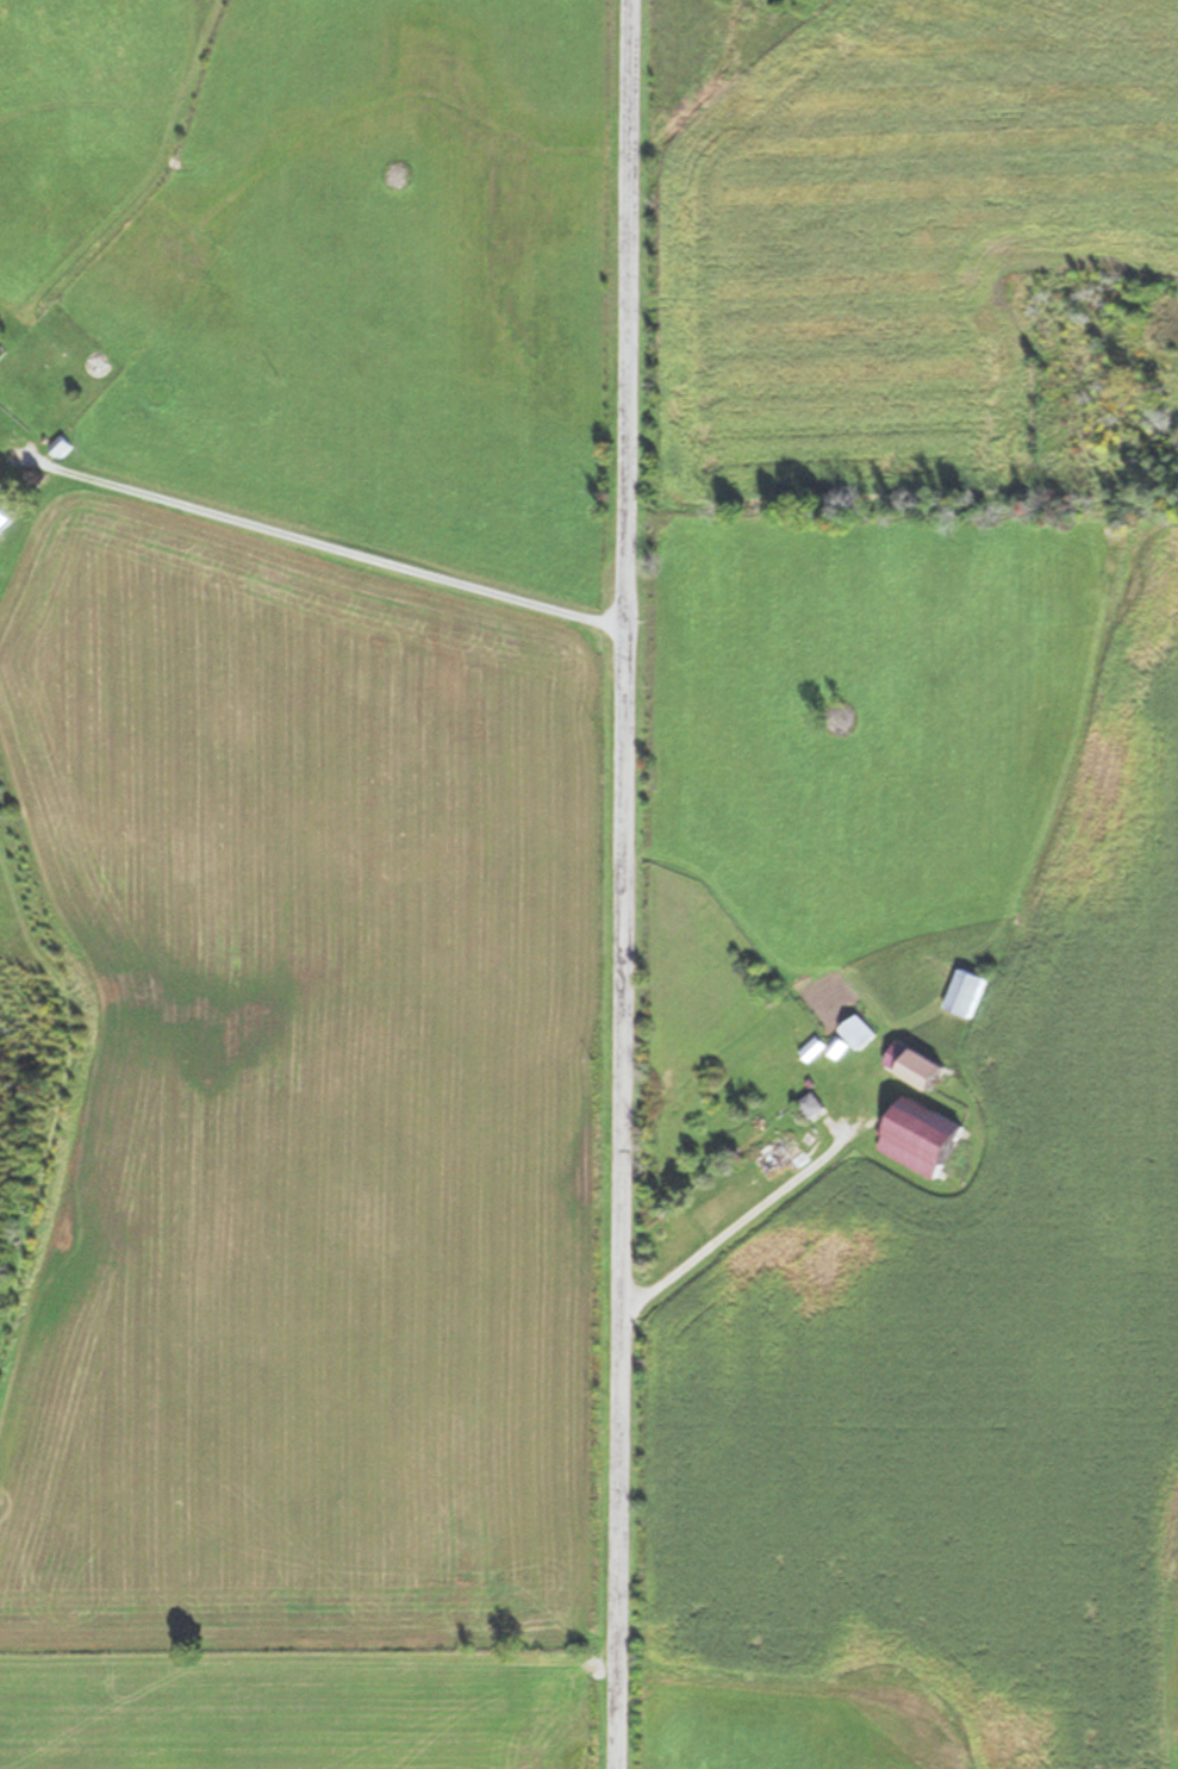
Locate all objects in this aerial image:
building: (58, 447)
building: (2, 518)
road: (337, 531)
road: (622, 884)
building: (961, 992)
building: (911, 1065)
building: (920, 1136)
building: (778, 1156)

